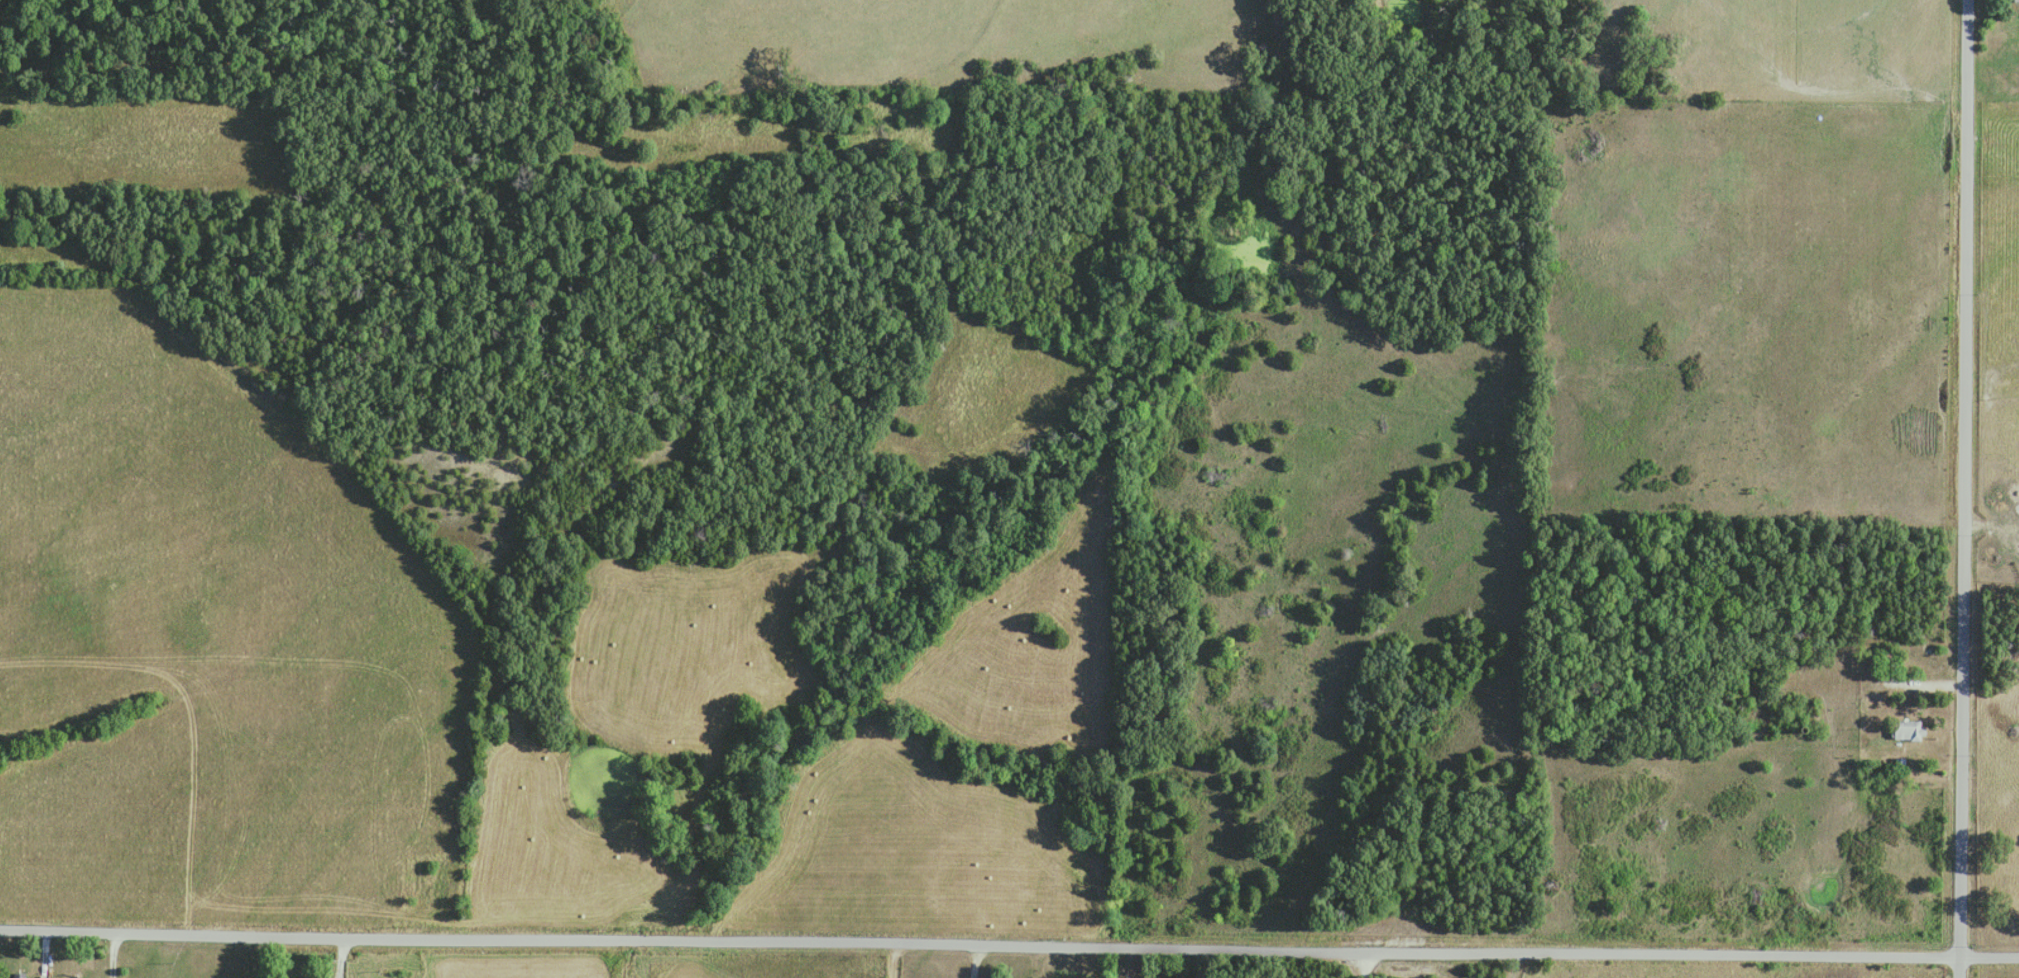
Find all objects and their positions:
building: (2016, 1)
road: (1964, 489)
building: (1885, 660)
road: (1925, 682)
building: (1906, 729)
road: (1009, 945)
road: (44, 946)
road: (111, 955)
road: (345, 956)
road: (975, 960)
road: (1356, 963)
road: (1510, 963)
building: (19, 976)
building: (45, 977)

